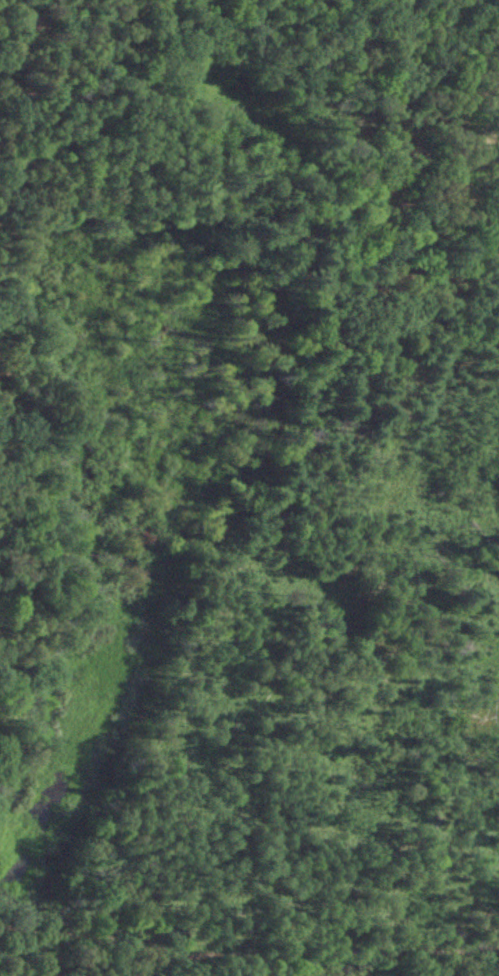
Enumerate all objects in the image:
road: (19, 17)
road: (249, 949)

